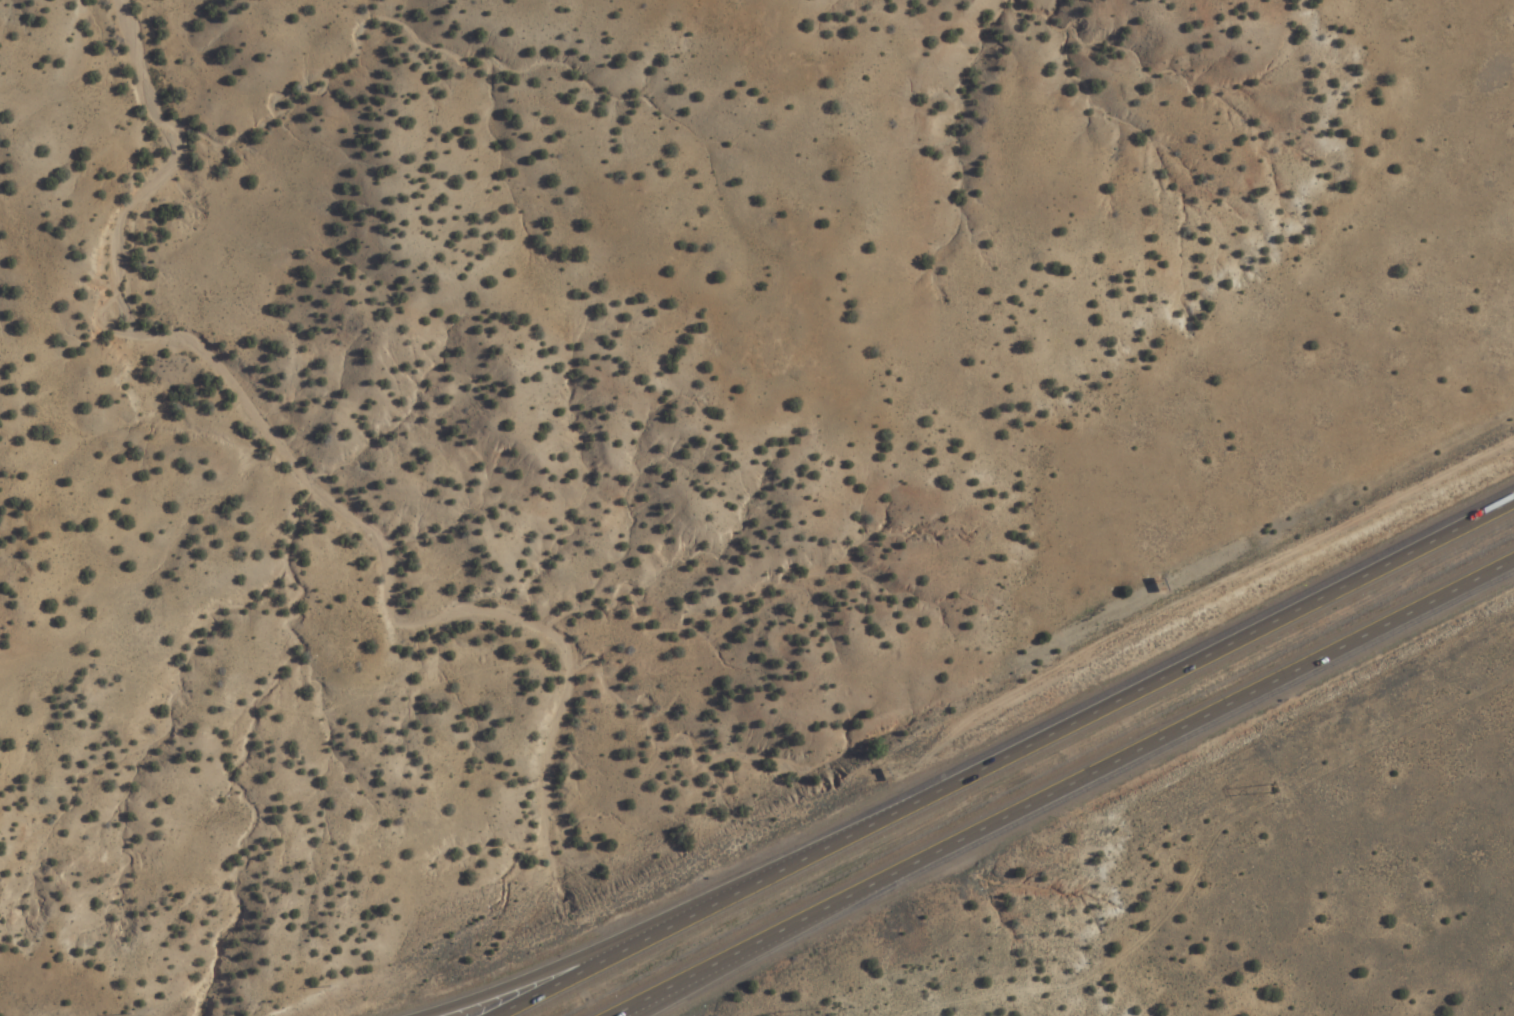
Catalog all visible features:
road: (1007, 755)
road: (1072, 790)
road: (559, 970)
road: (675, 997)

